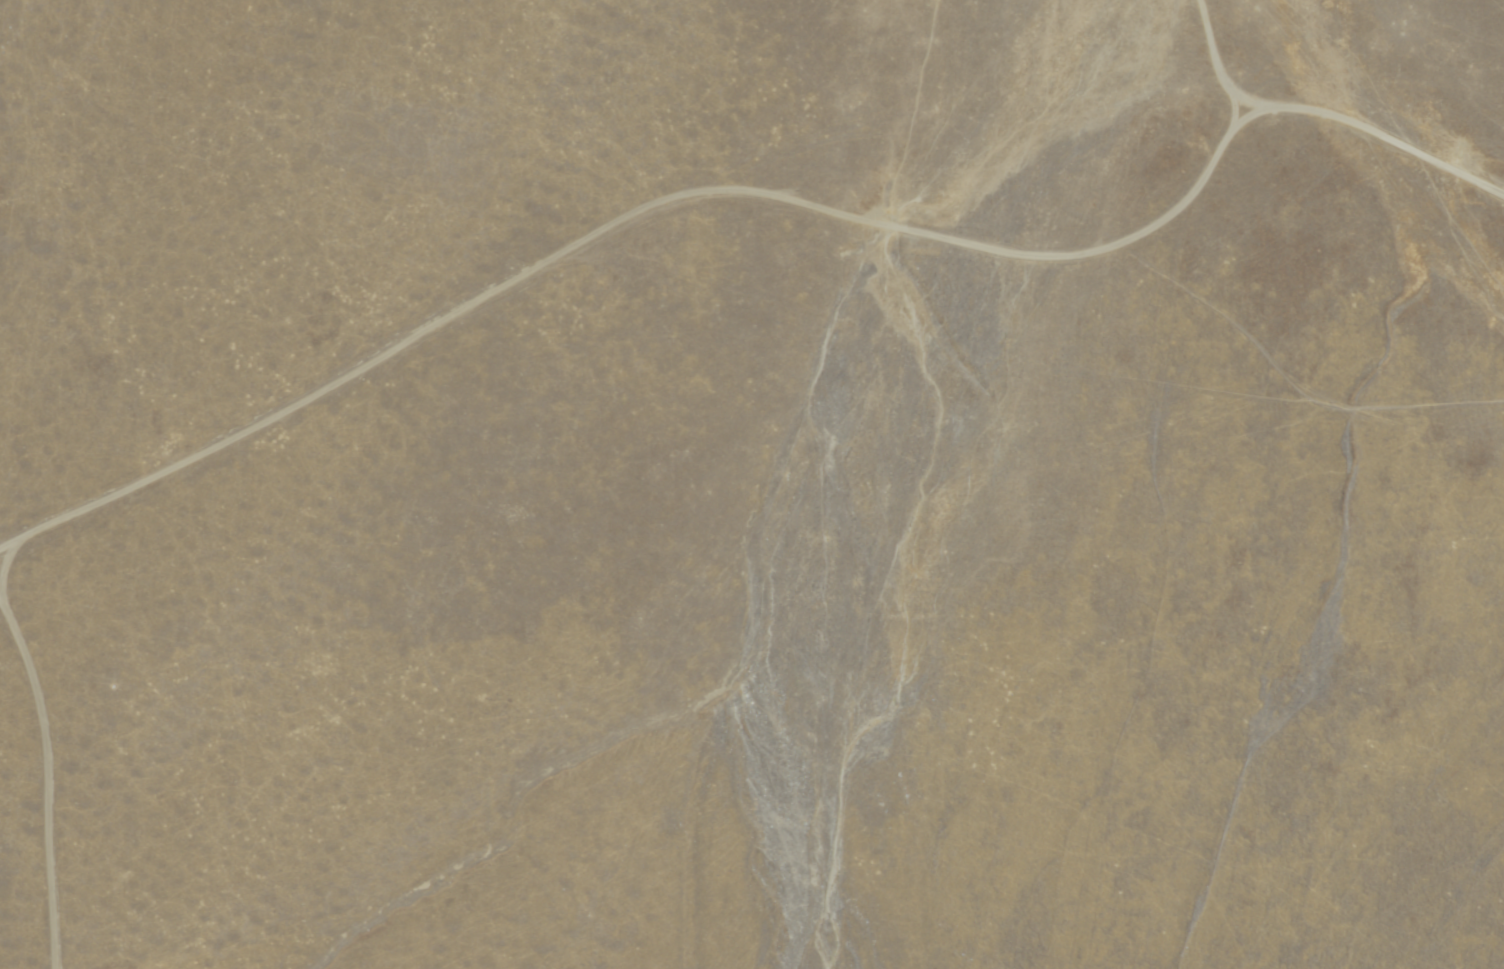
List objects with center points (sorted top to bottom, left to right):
road: (753, 204)

